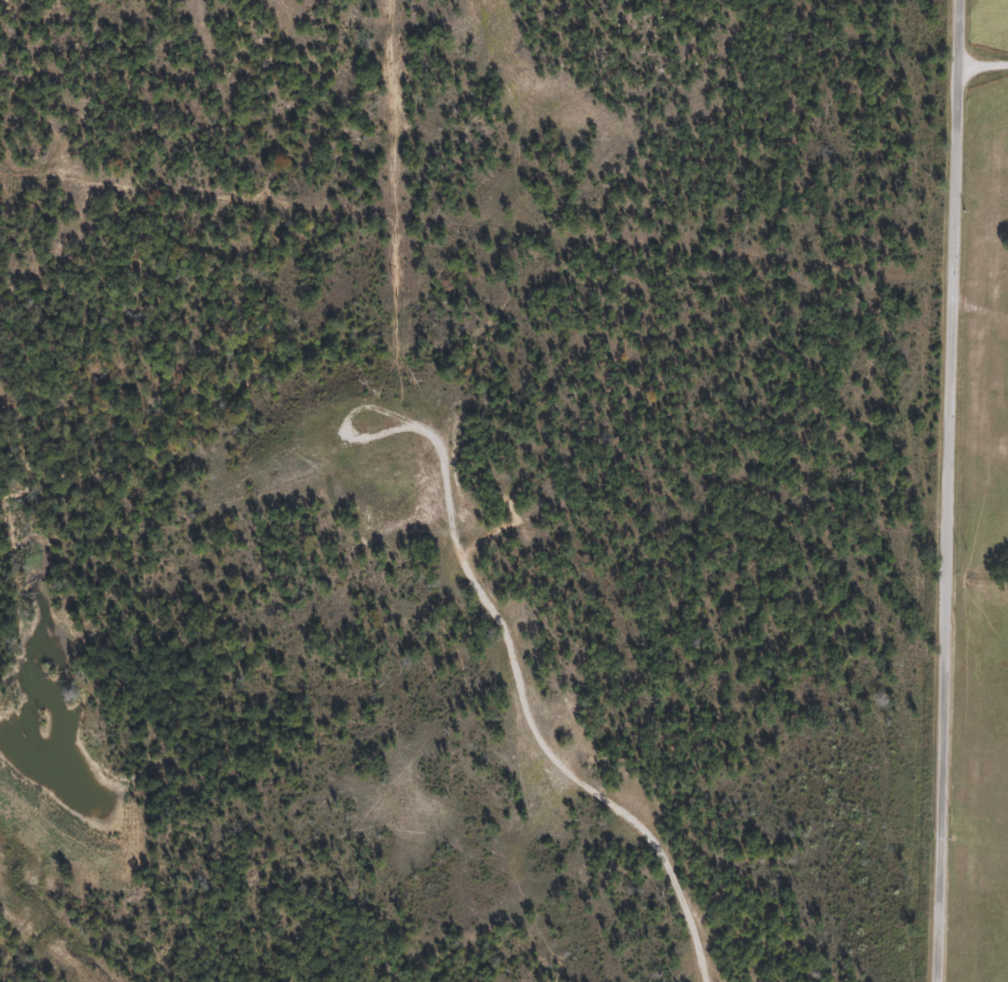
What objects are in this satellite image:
road: (991, 67)
road: (957, 490)

